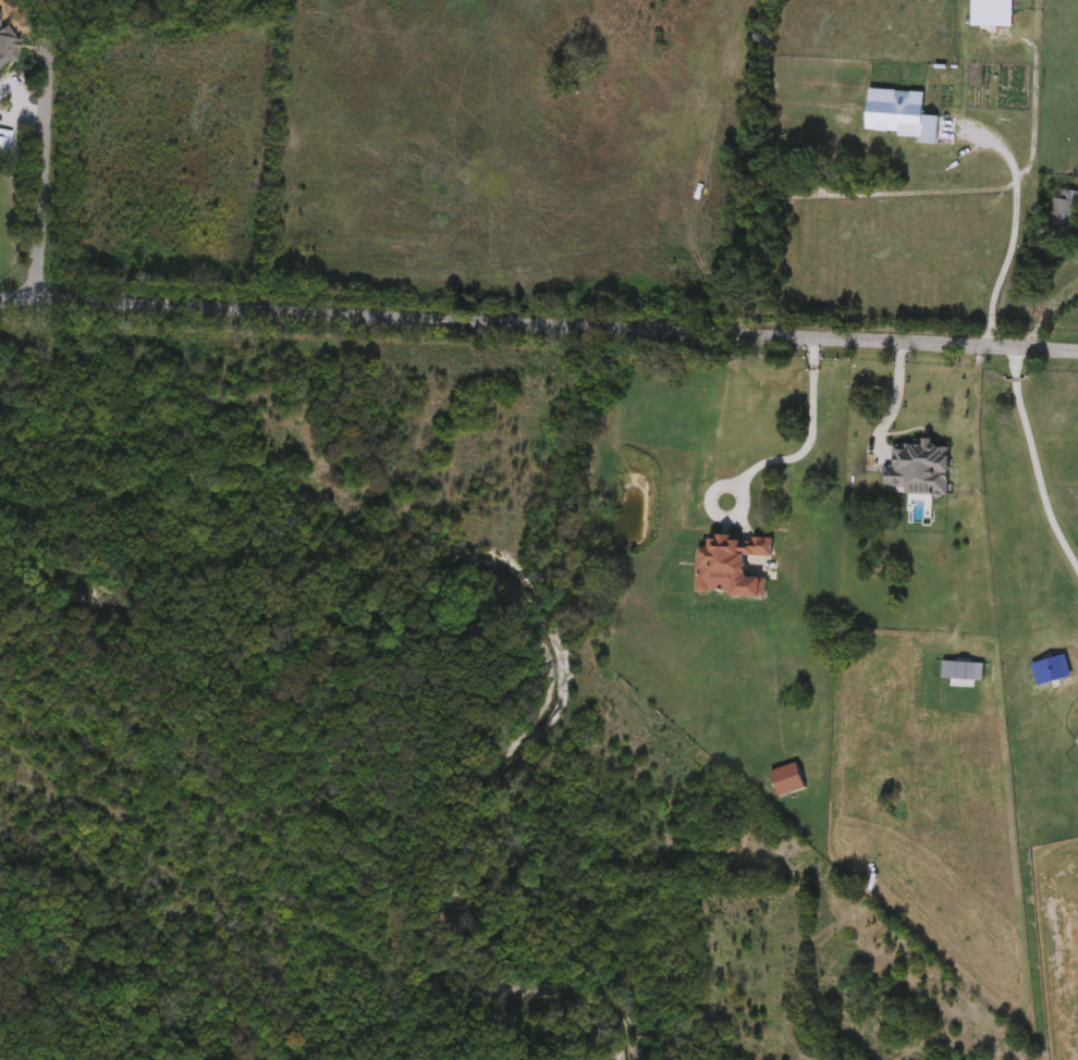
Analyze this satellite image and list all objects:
building: (4, 4)
building: (5, 146)
road: (44, 149)
building: (1066, 211)
road: (1018, 227)
road: (538, 325)
road: (1015, 366)
road: (893, 405)
road: (765, 458)
road: (1040, 478)

